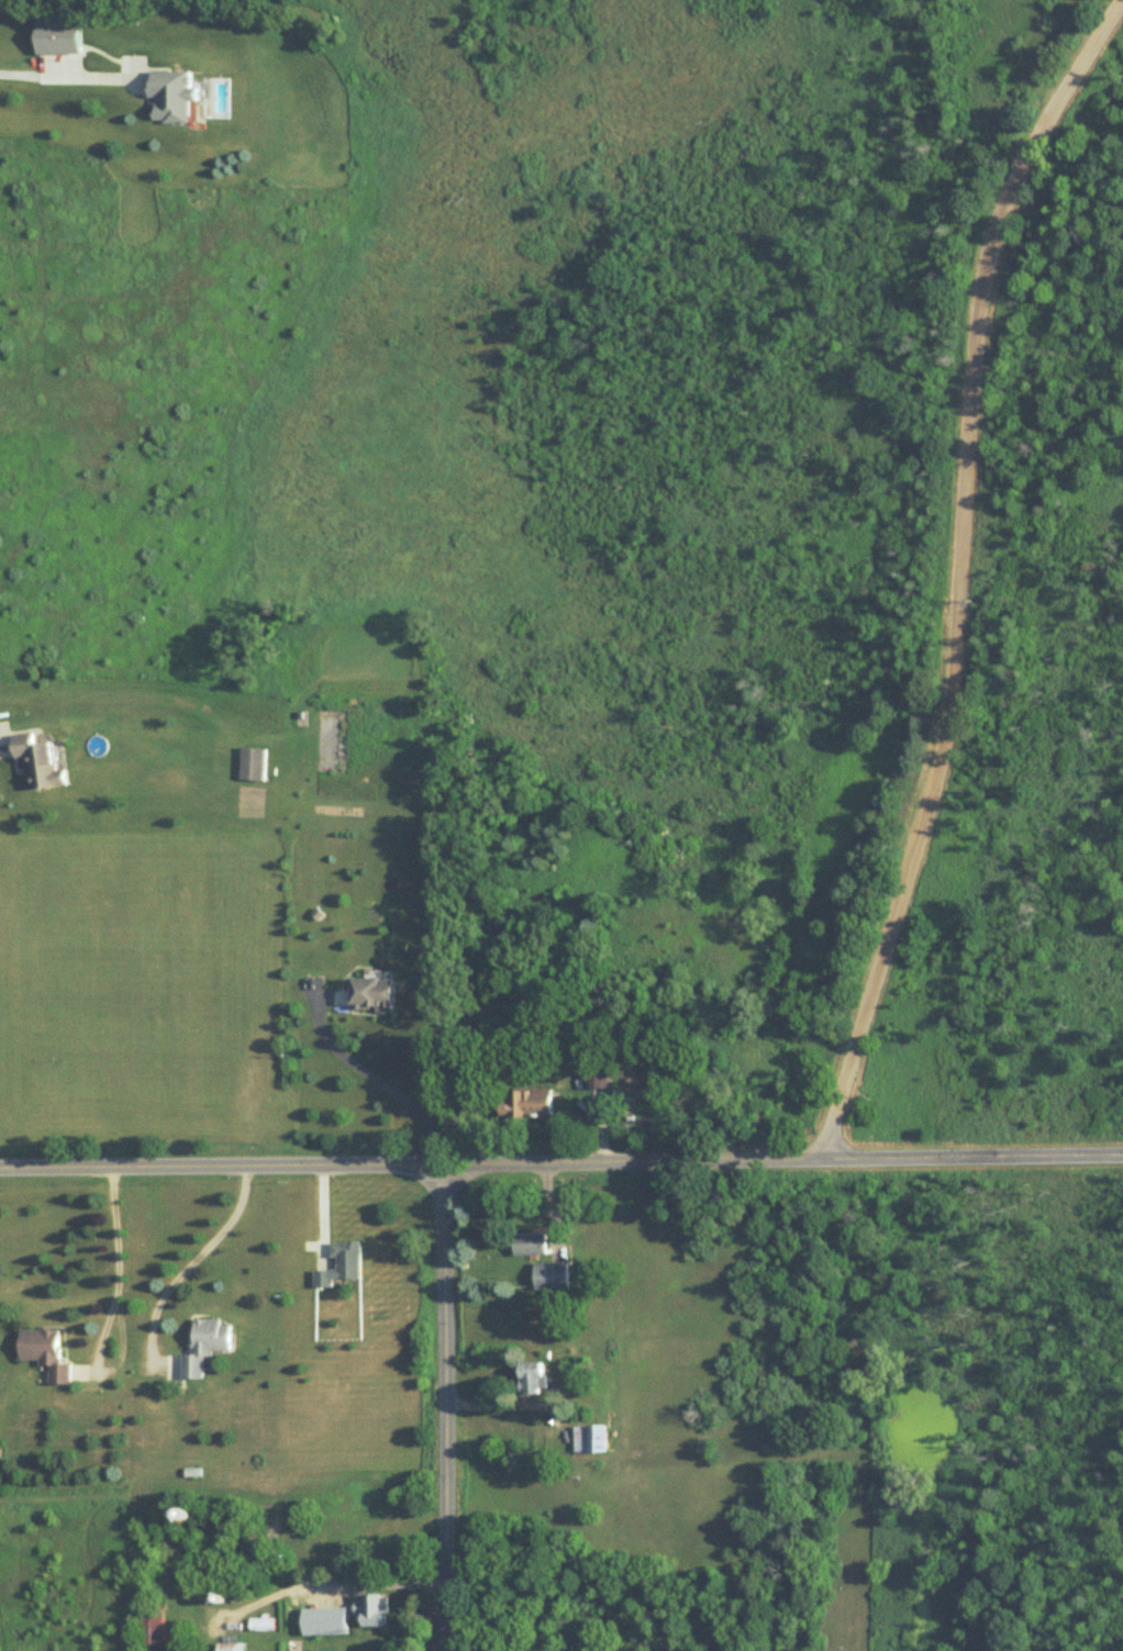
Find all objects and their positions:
building: (59, 36)
road: (58, 77)
building: (173, 97)
road: (964, 572)
building: (252, 763)
building: (374, 994)
road: (381, 1080)
building: (530, 1105)
road: (561, 1164)
building: (532, 1245)
road: (192, 1260)
building: (338, 1264)
building: (553, 1276)
road: (113, 1315)
building: (205, 1347)
building: (46, 1353)
building: (533, 1377)
road: (447, 1408)
building: (591, 1438)
road: (332, 1584)
building: (374, 1608)
building: (262, 1622)
building: (153, 1625)
building: (232, 1647)

